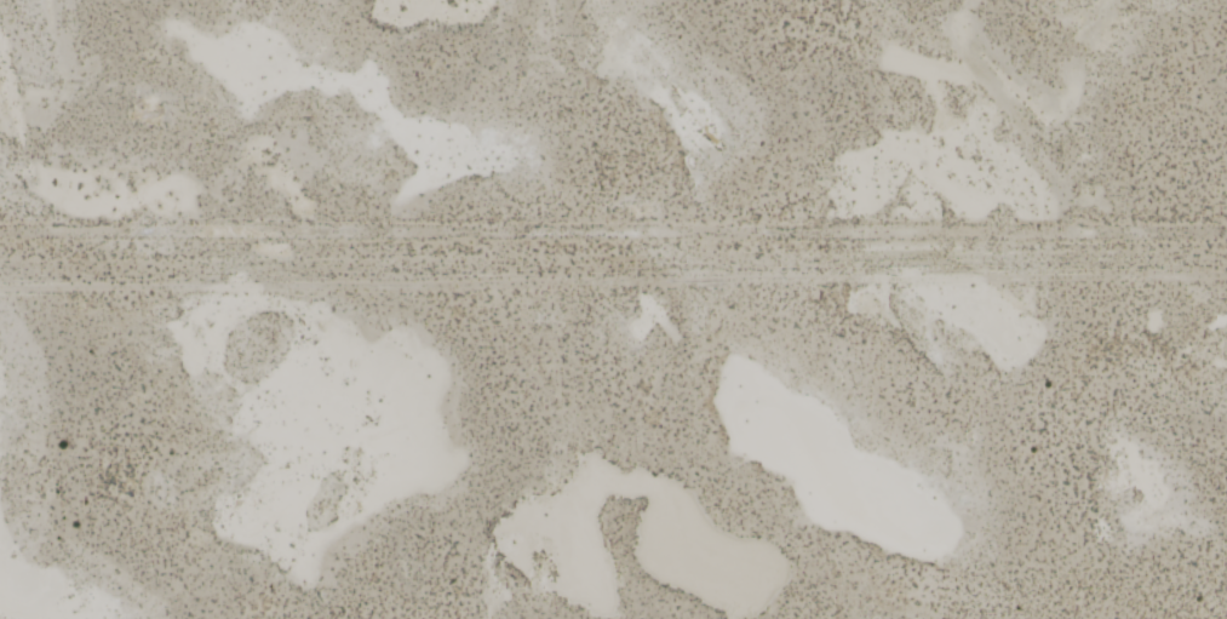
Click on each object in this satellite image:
airport: (615, 449)

